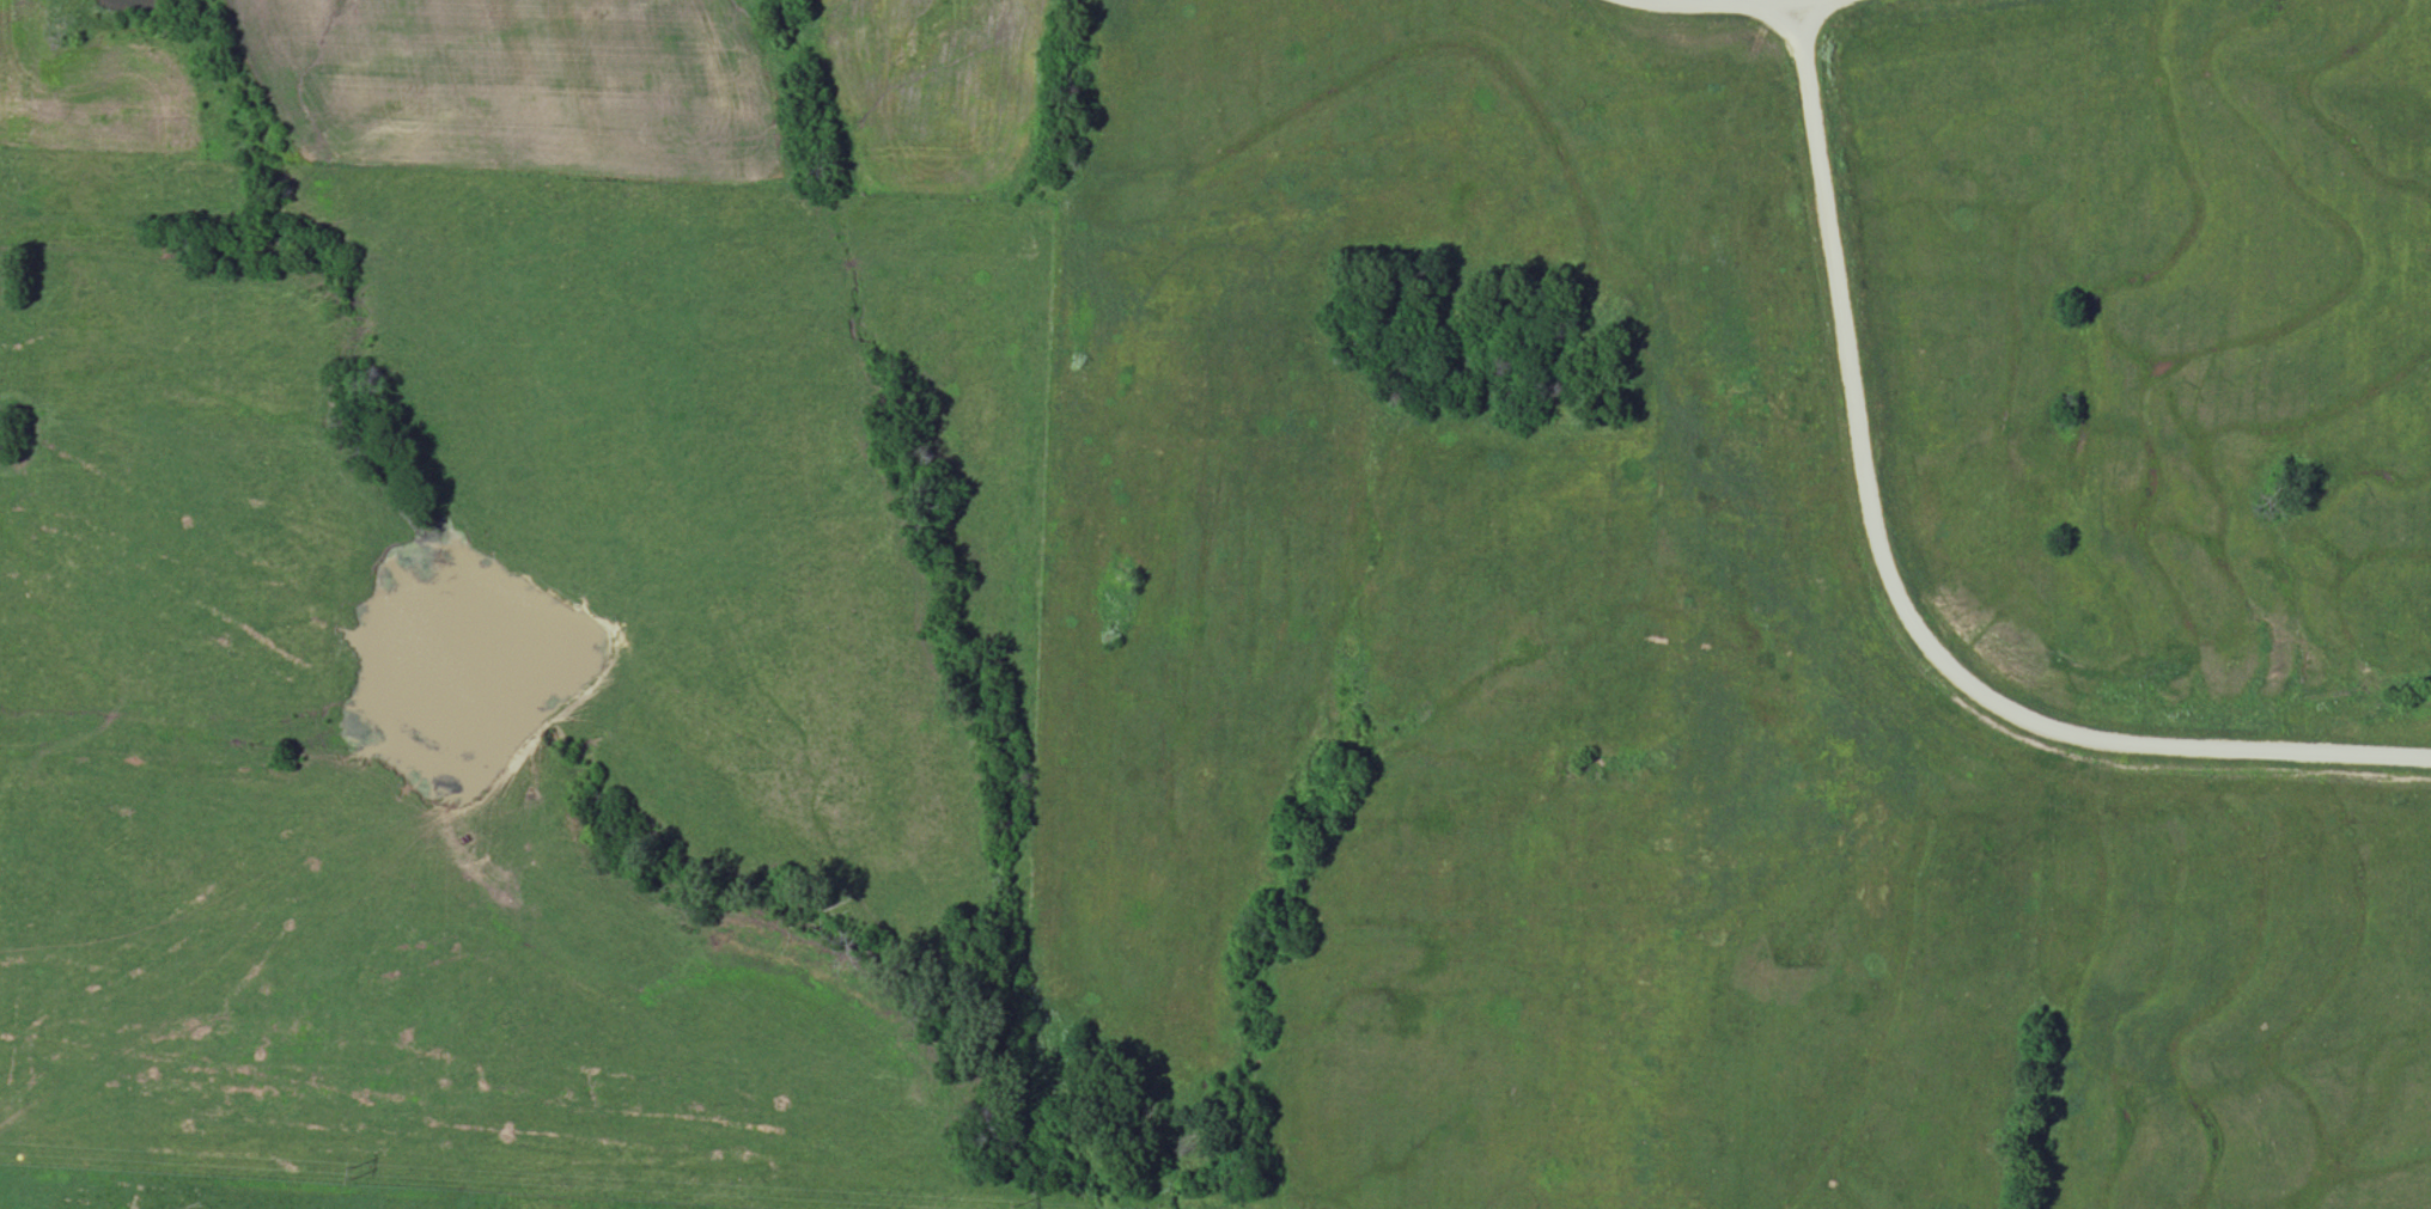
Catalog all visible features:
road: (1726, 1)
crop: (518, 85)
crop: (933, 91)
crop: (92, 94)
road: (1893, 588)

